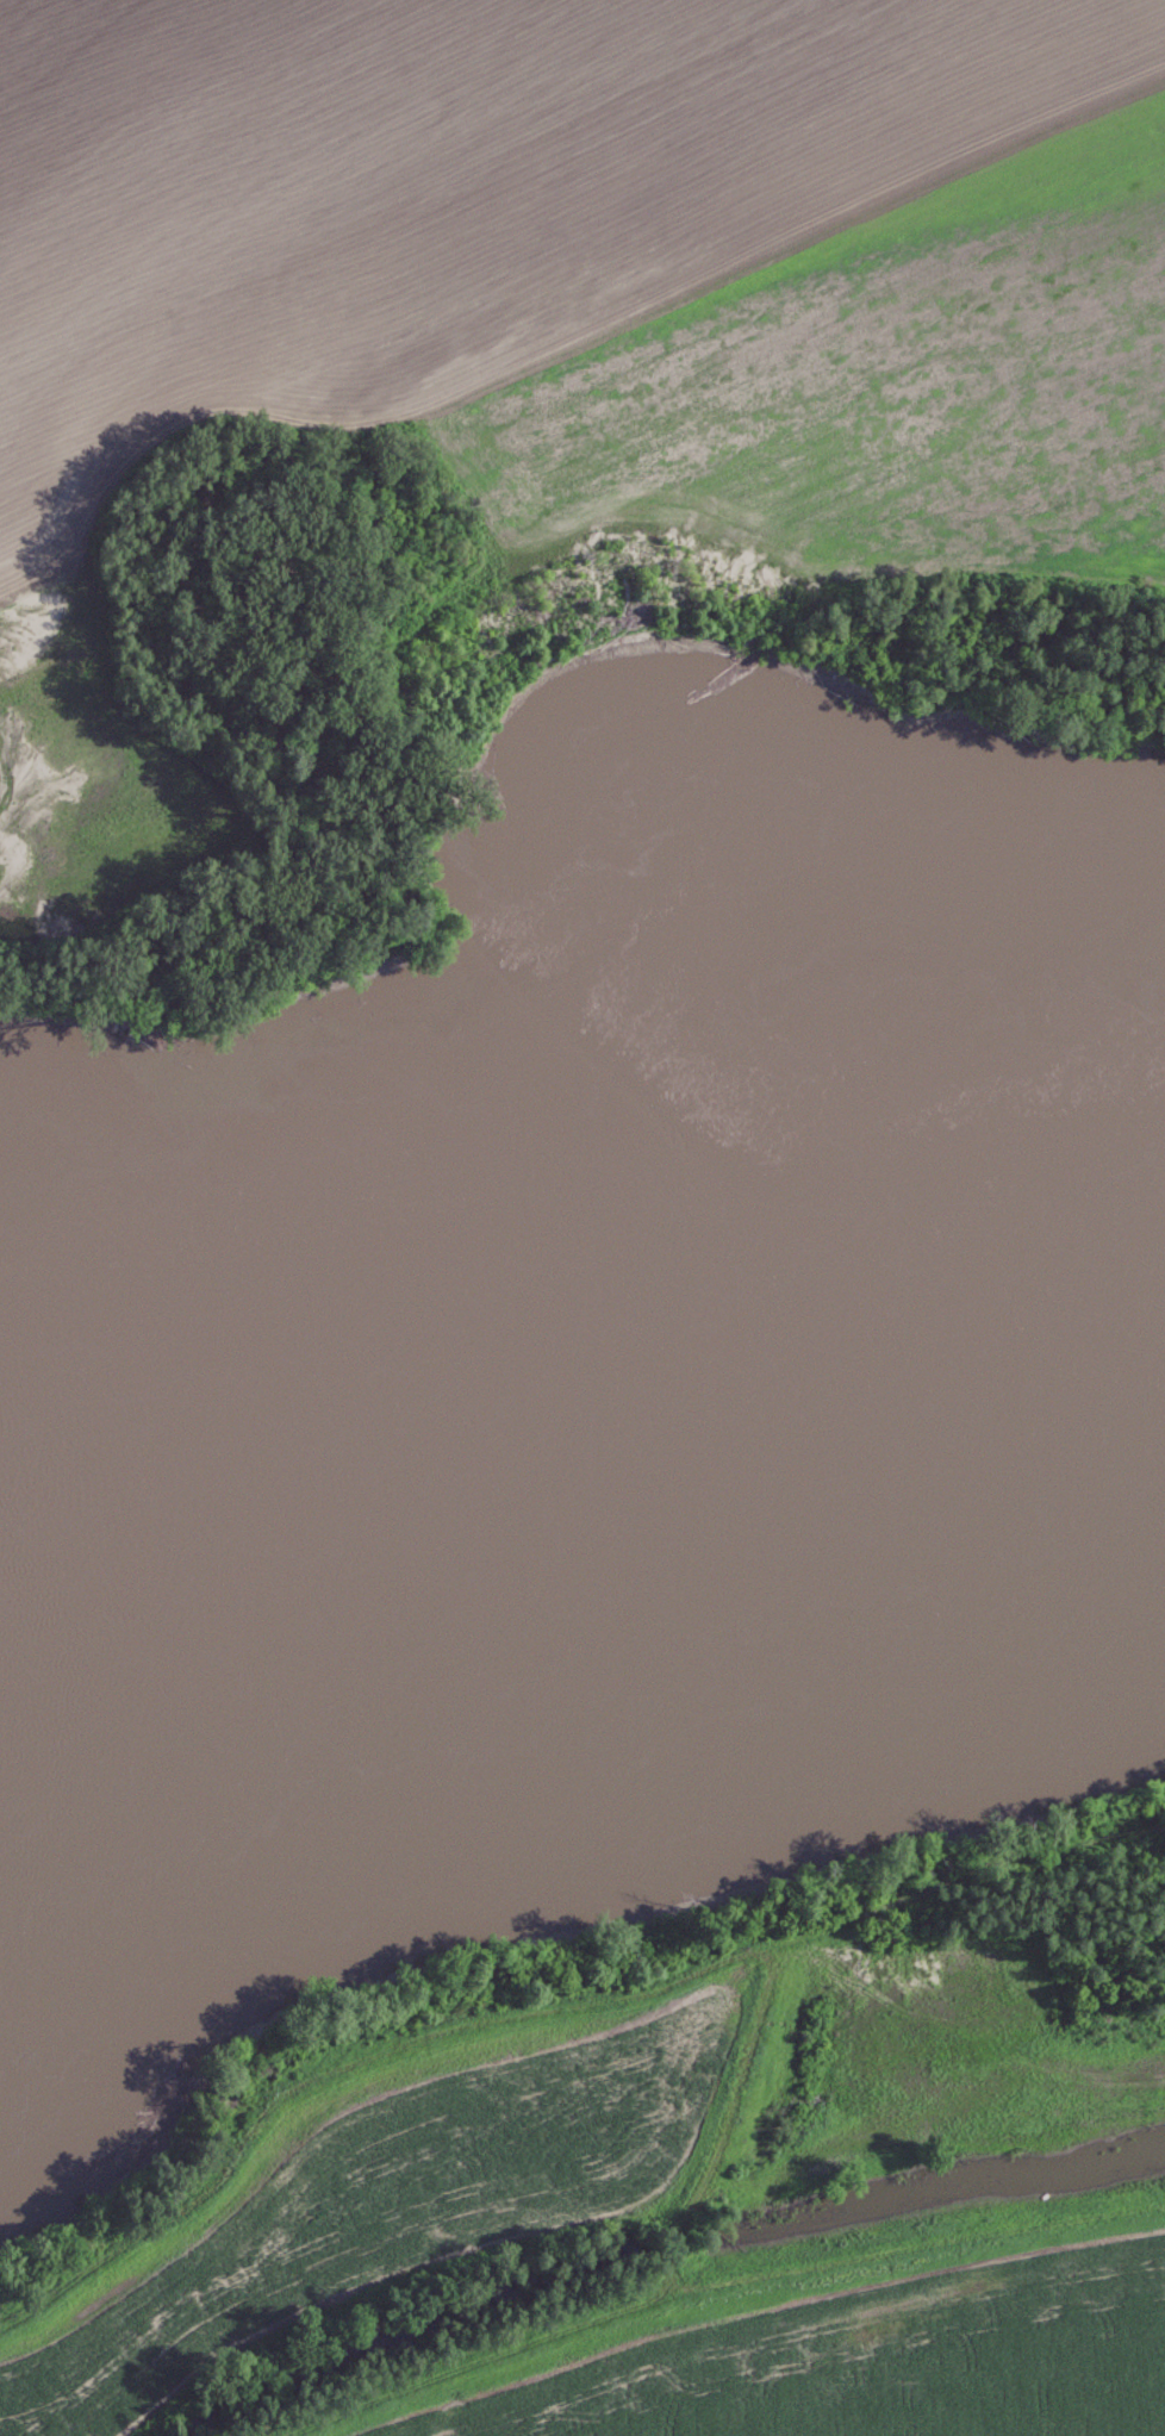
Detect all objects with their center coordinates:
river: (582, 1516)

